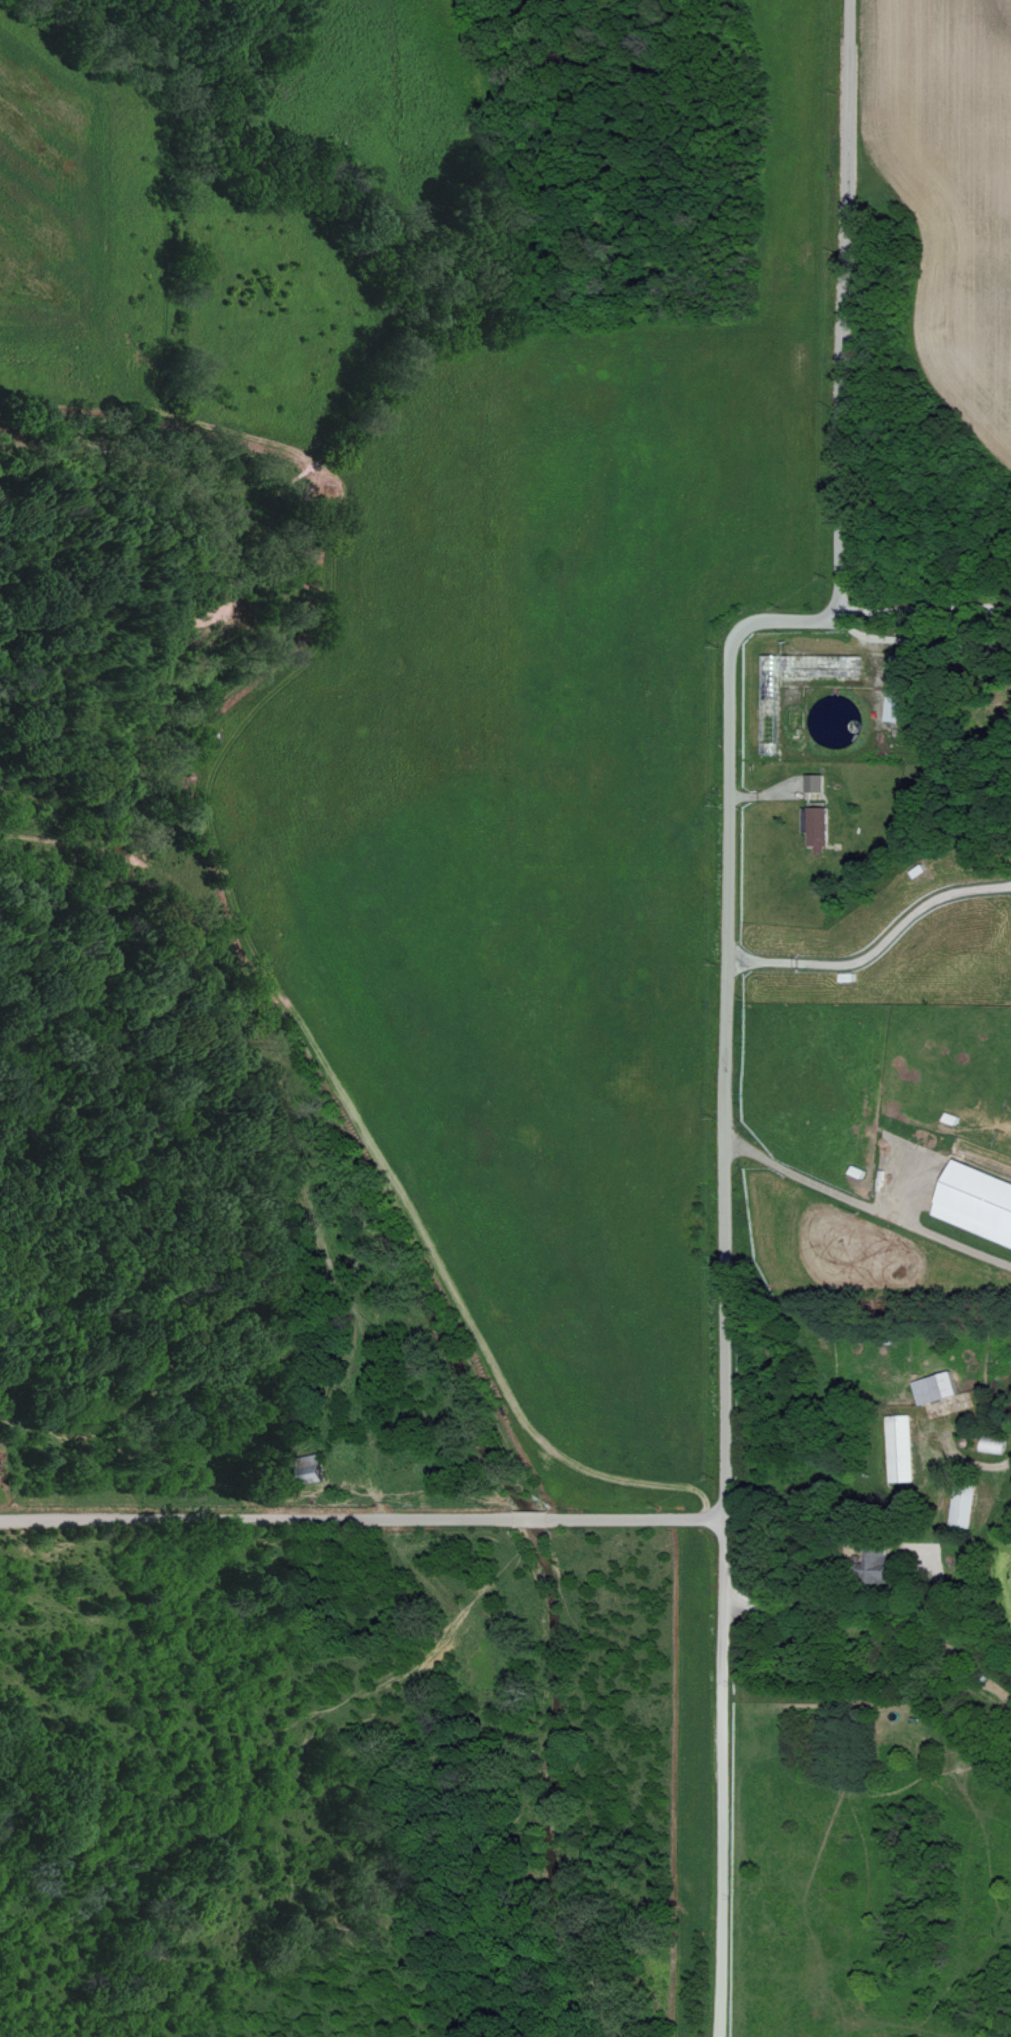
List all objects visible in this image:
road: (926, 610)
building: (896, 688)
road: (729, 710)
building: (812, 782)
building: (814, 827)
road: (875, 947)
building: (976, 1202)
road: (865, 1206)
building: (933, 1387)
building: (992, 1445)
building: (898, 1447)
building: (310, 1468)
building: (962, 1504)
road: (362, 1518)
building: (875, 1563)
road: (720, 1773)
road: (716, 2031)

